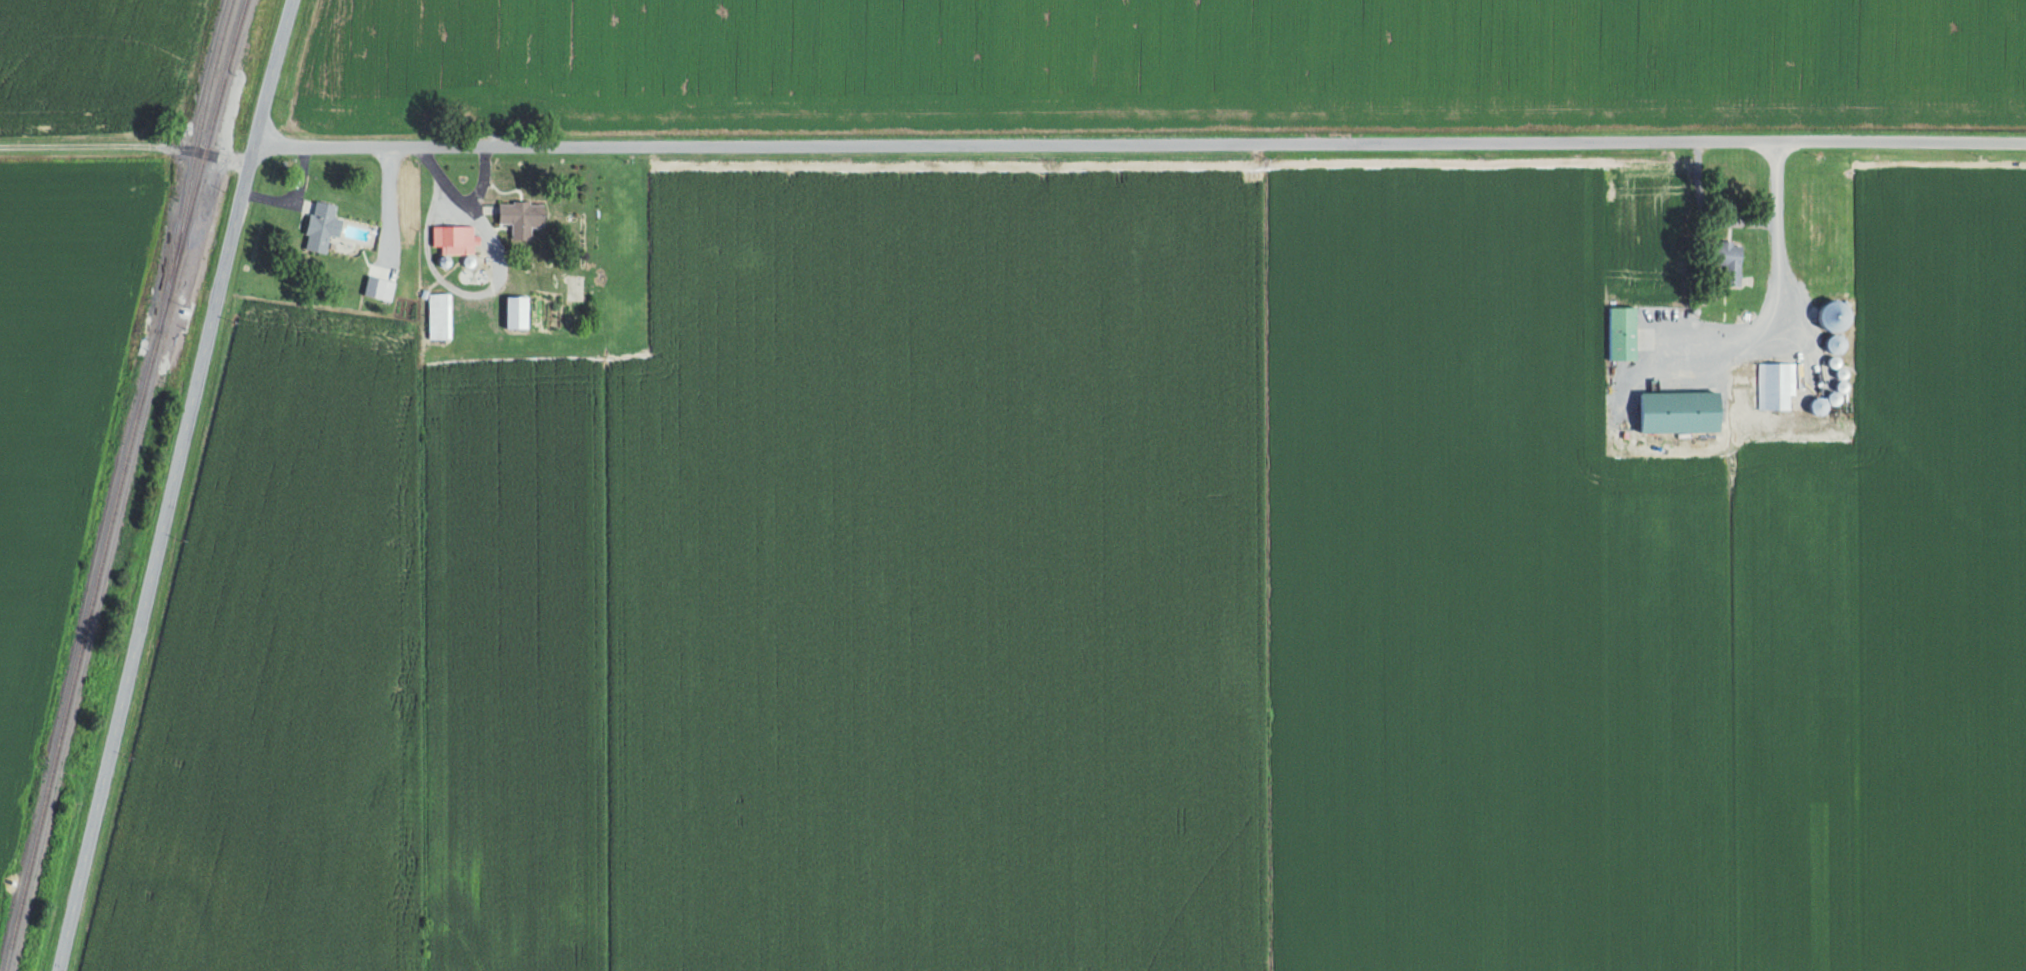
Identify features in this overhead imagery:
road: (1139, 144)
road: (124, 146)
railway: (192, 164)
railway: (201, 164)
building: (522, 216)
building: (322, 225)
building: (458, 234)
building: (1730, 260)
building: (517, 311)
building: (440, 315)
building: (1623, 332)
building: (1776, 385)
building: (1681, 411)
road: (171, 484)
railway: (79, 650)

